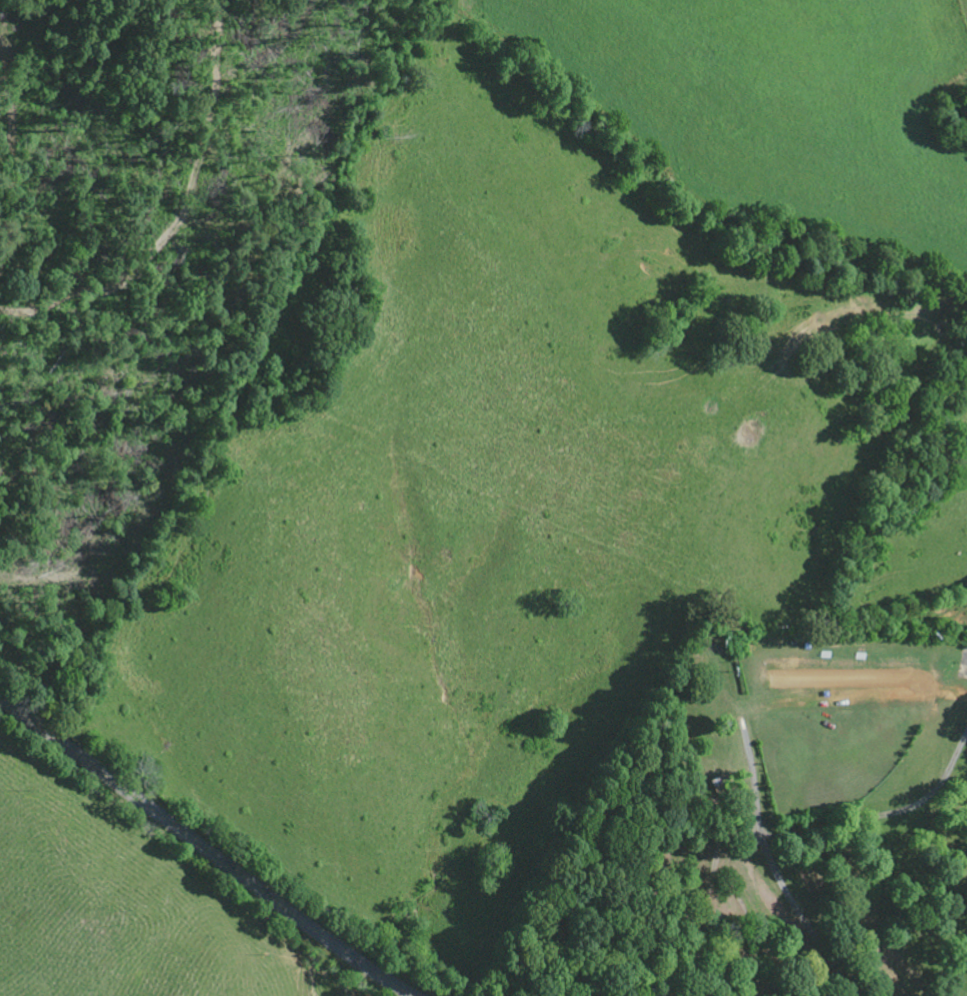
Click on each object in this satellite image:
park: (764, 820)
road: (204, 849)
road: (795, 901)

